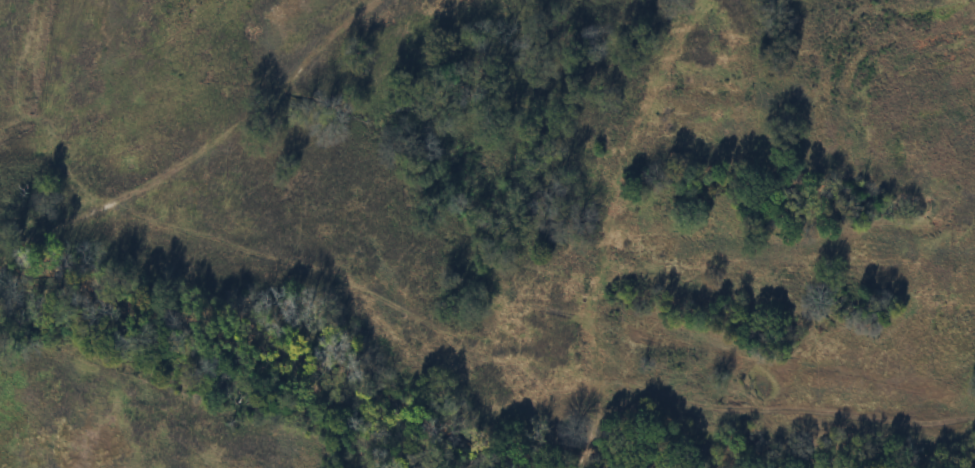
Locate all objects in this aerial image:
road: (203, 154)

